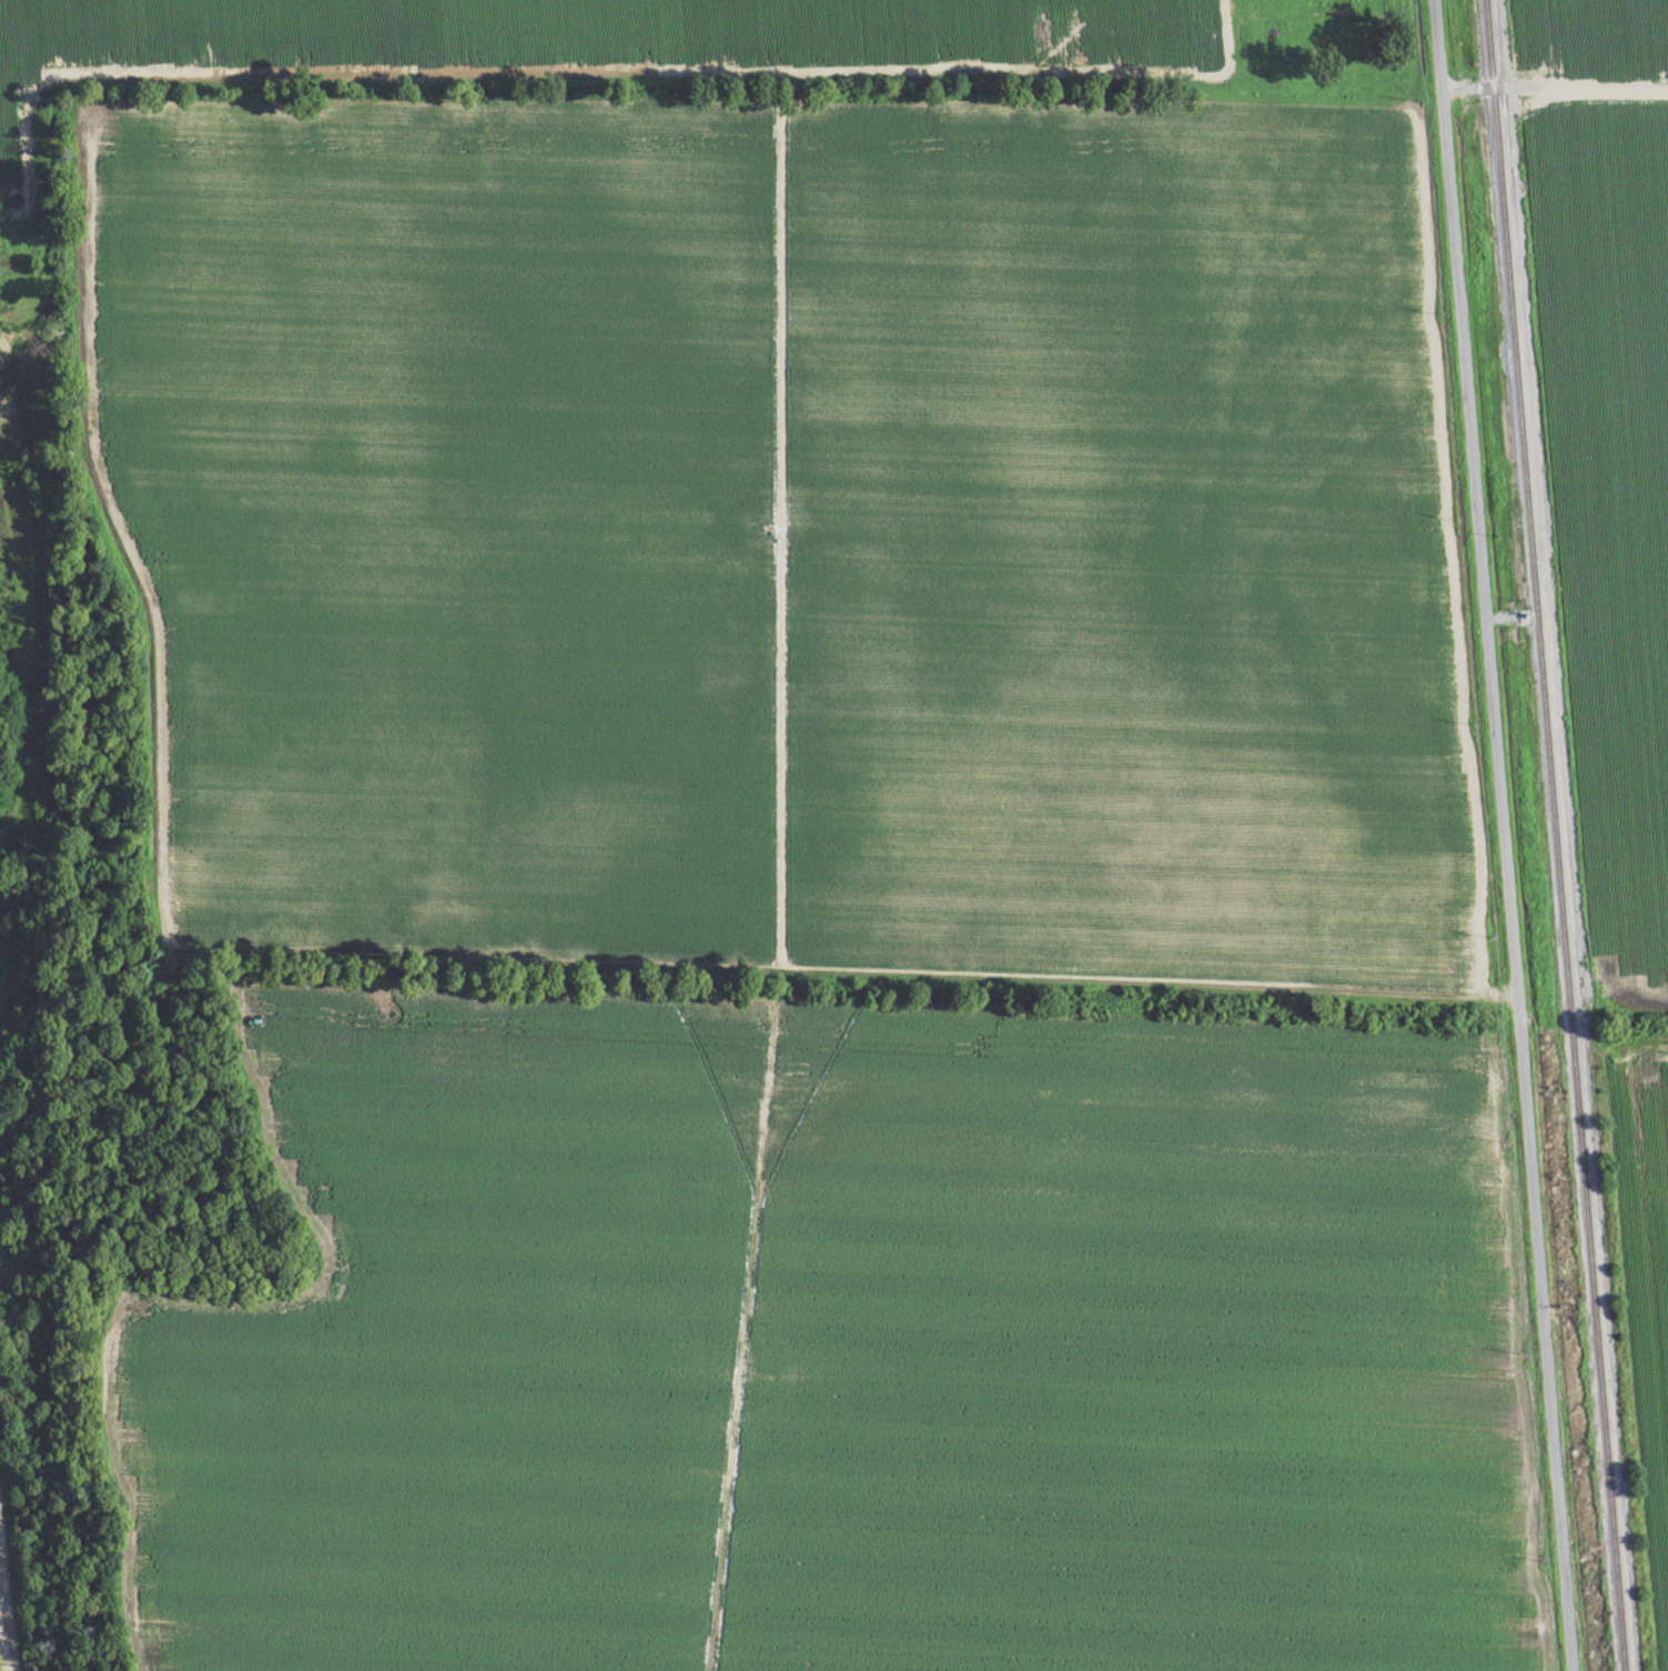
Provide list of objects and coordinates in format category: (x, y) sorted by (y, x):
road: (1555, 88)
road: (1505, 835)
railway: (1557, 835)

